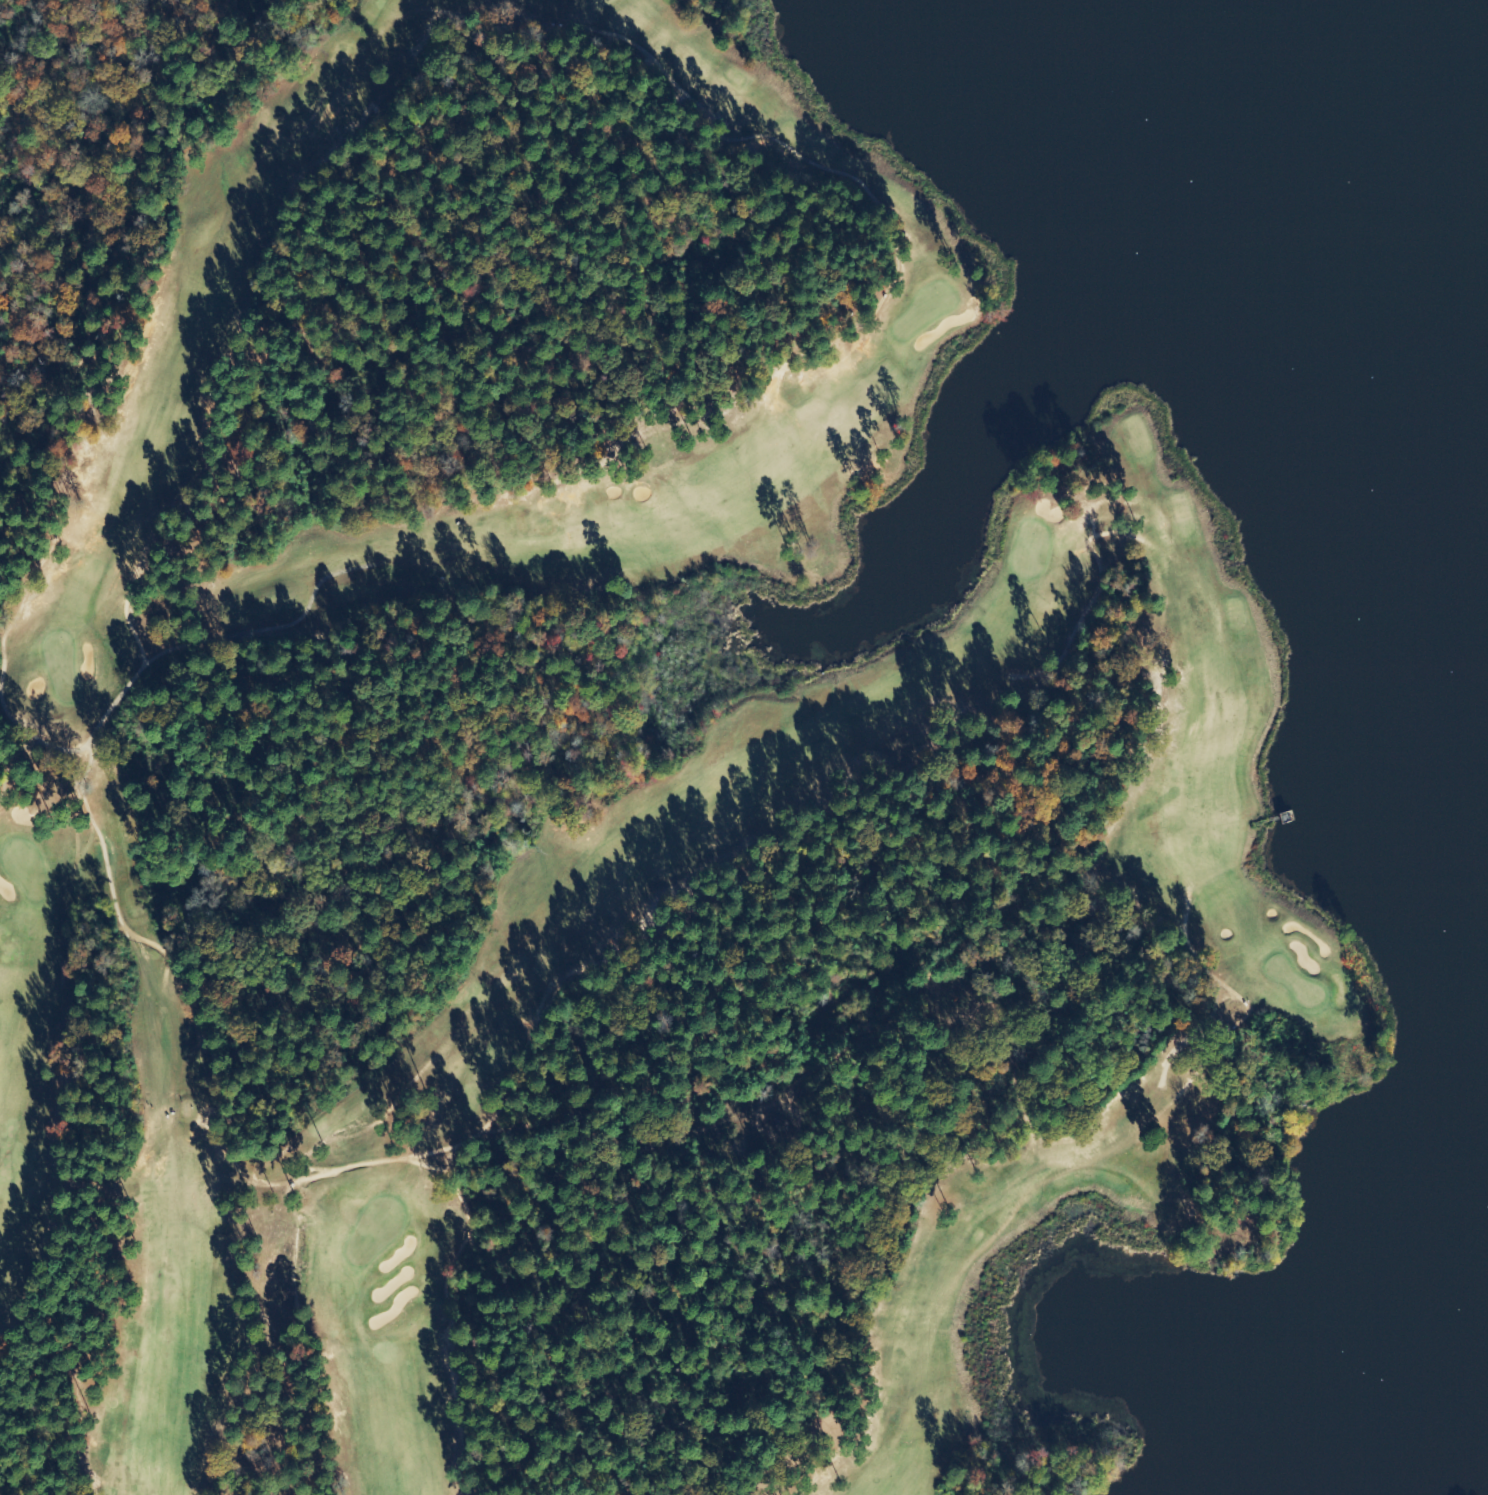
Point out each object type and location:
park: (921, 308)
park: (57, 664)
park: (597, 807)
park: (23, 868)
park: (1291, 982)

